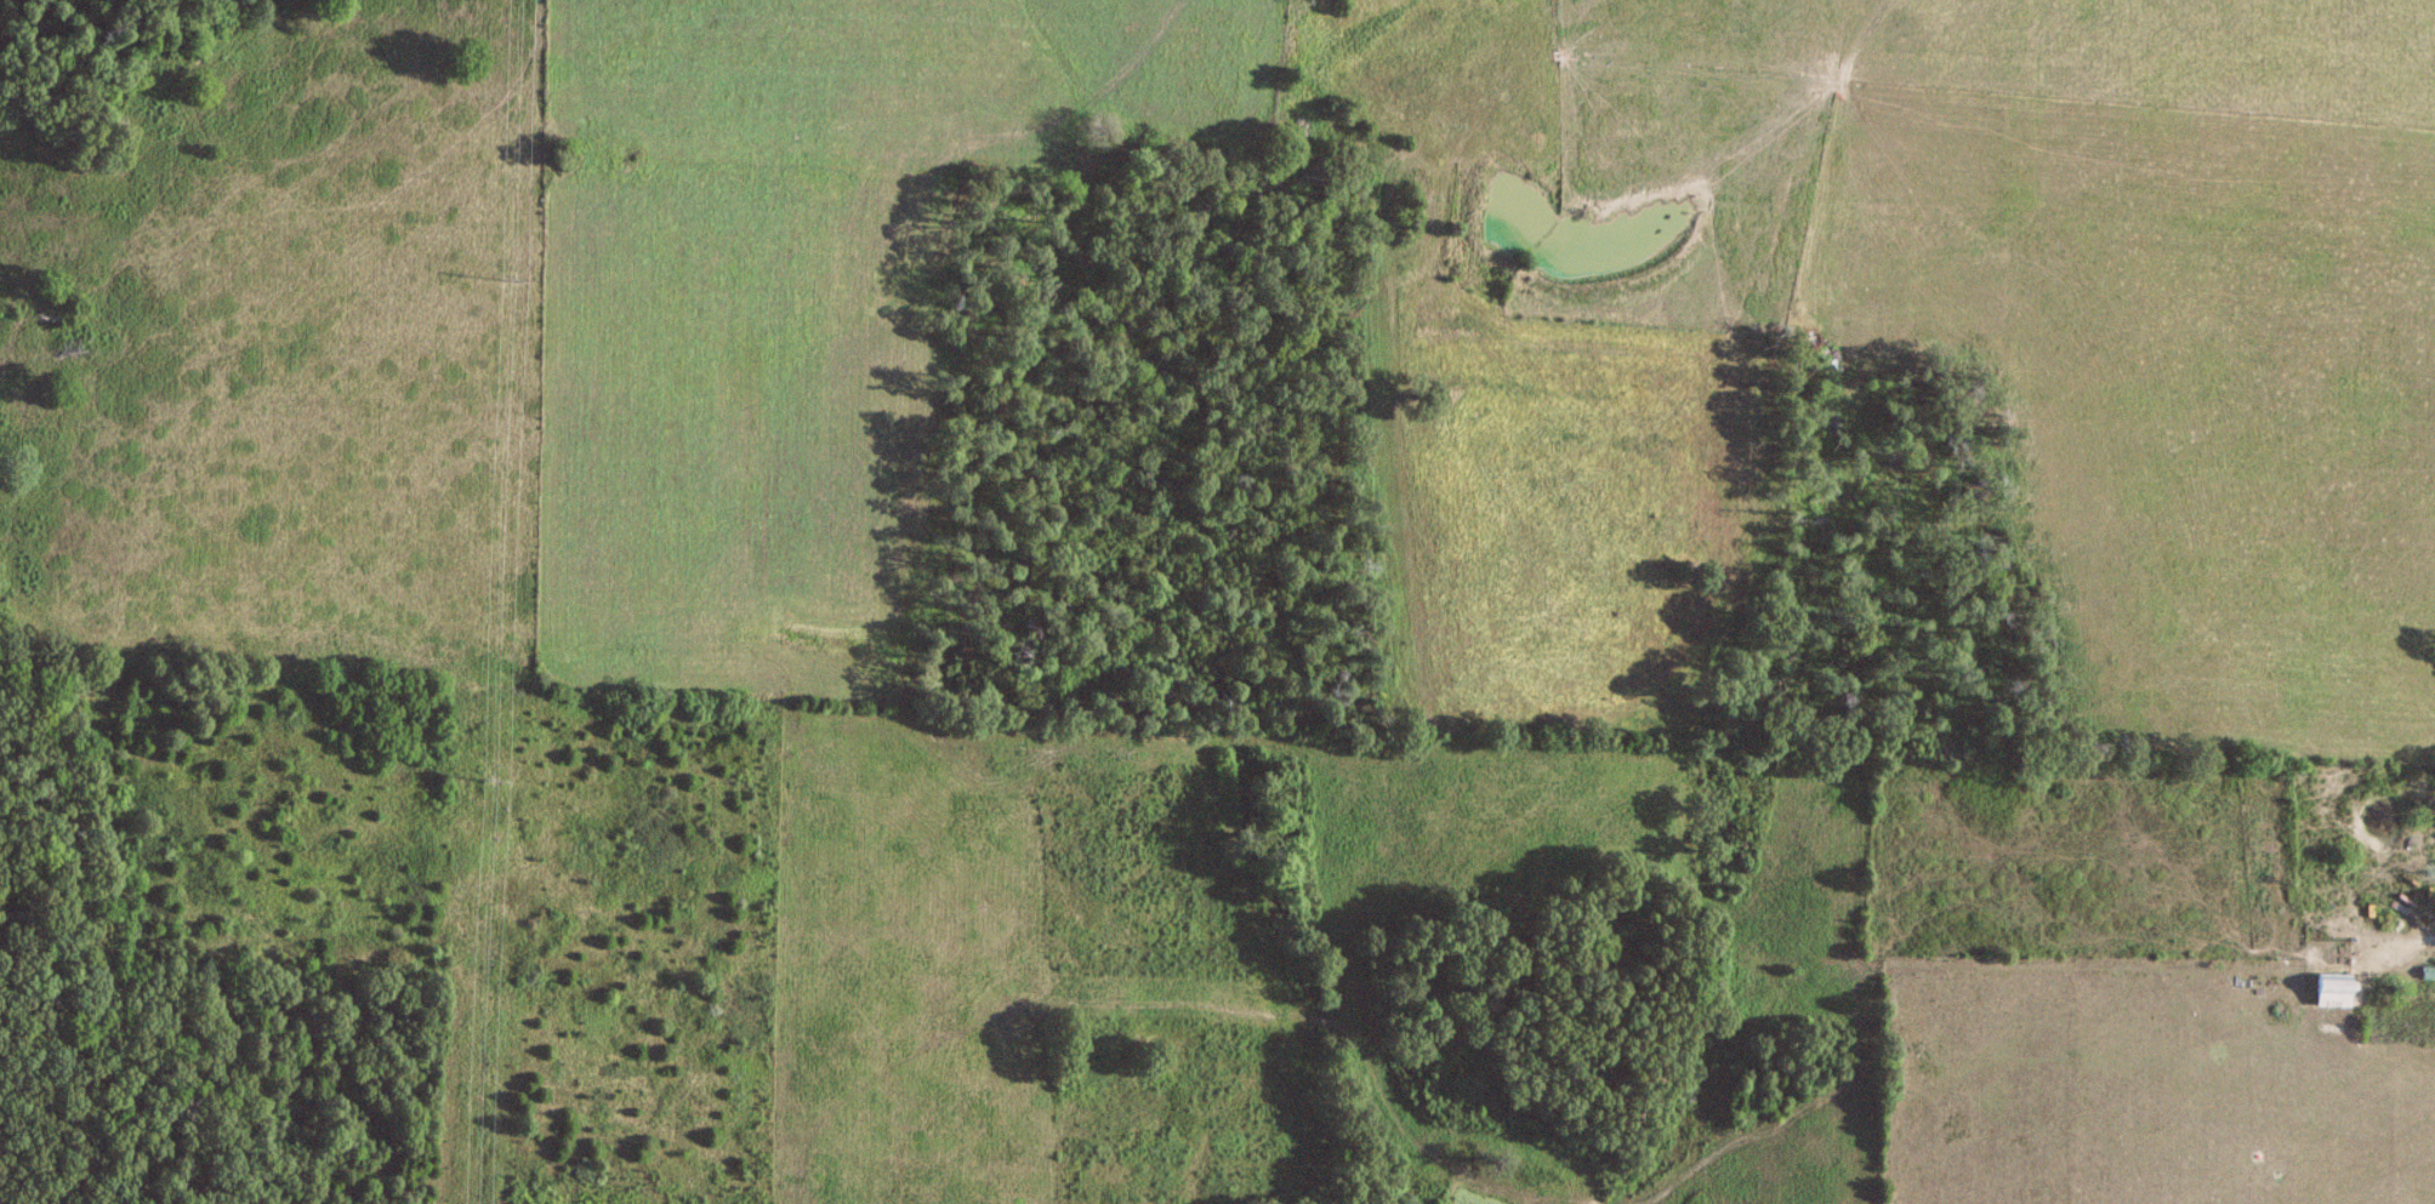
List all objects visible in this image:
building: (2336, 992)

